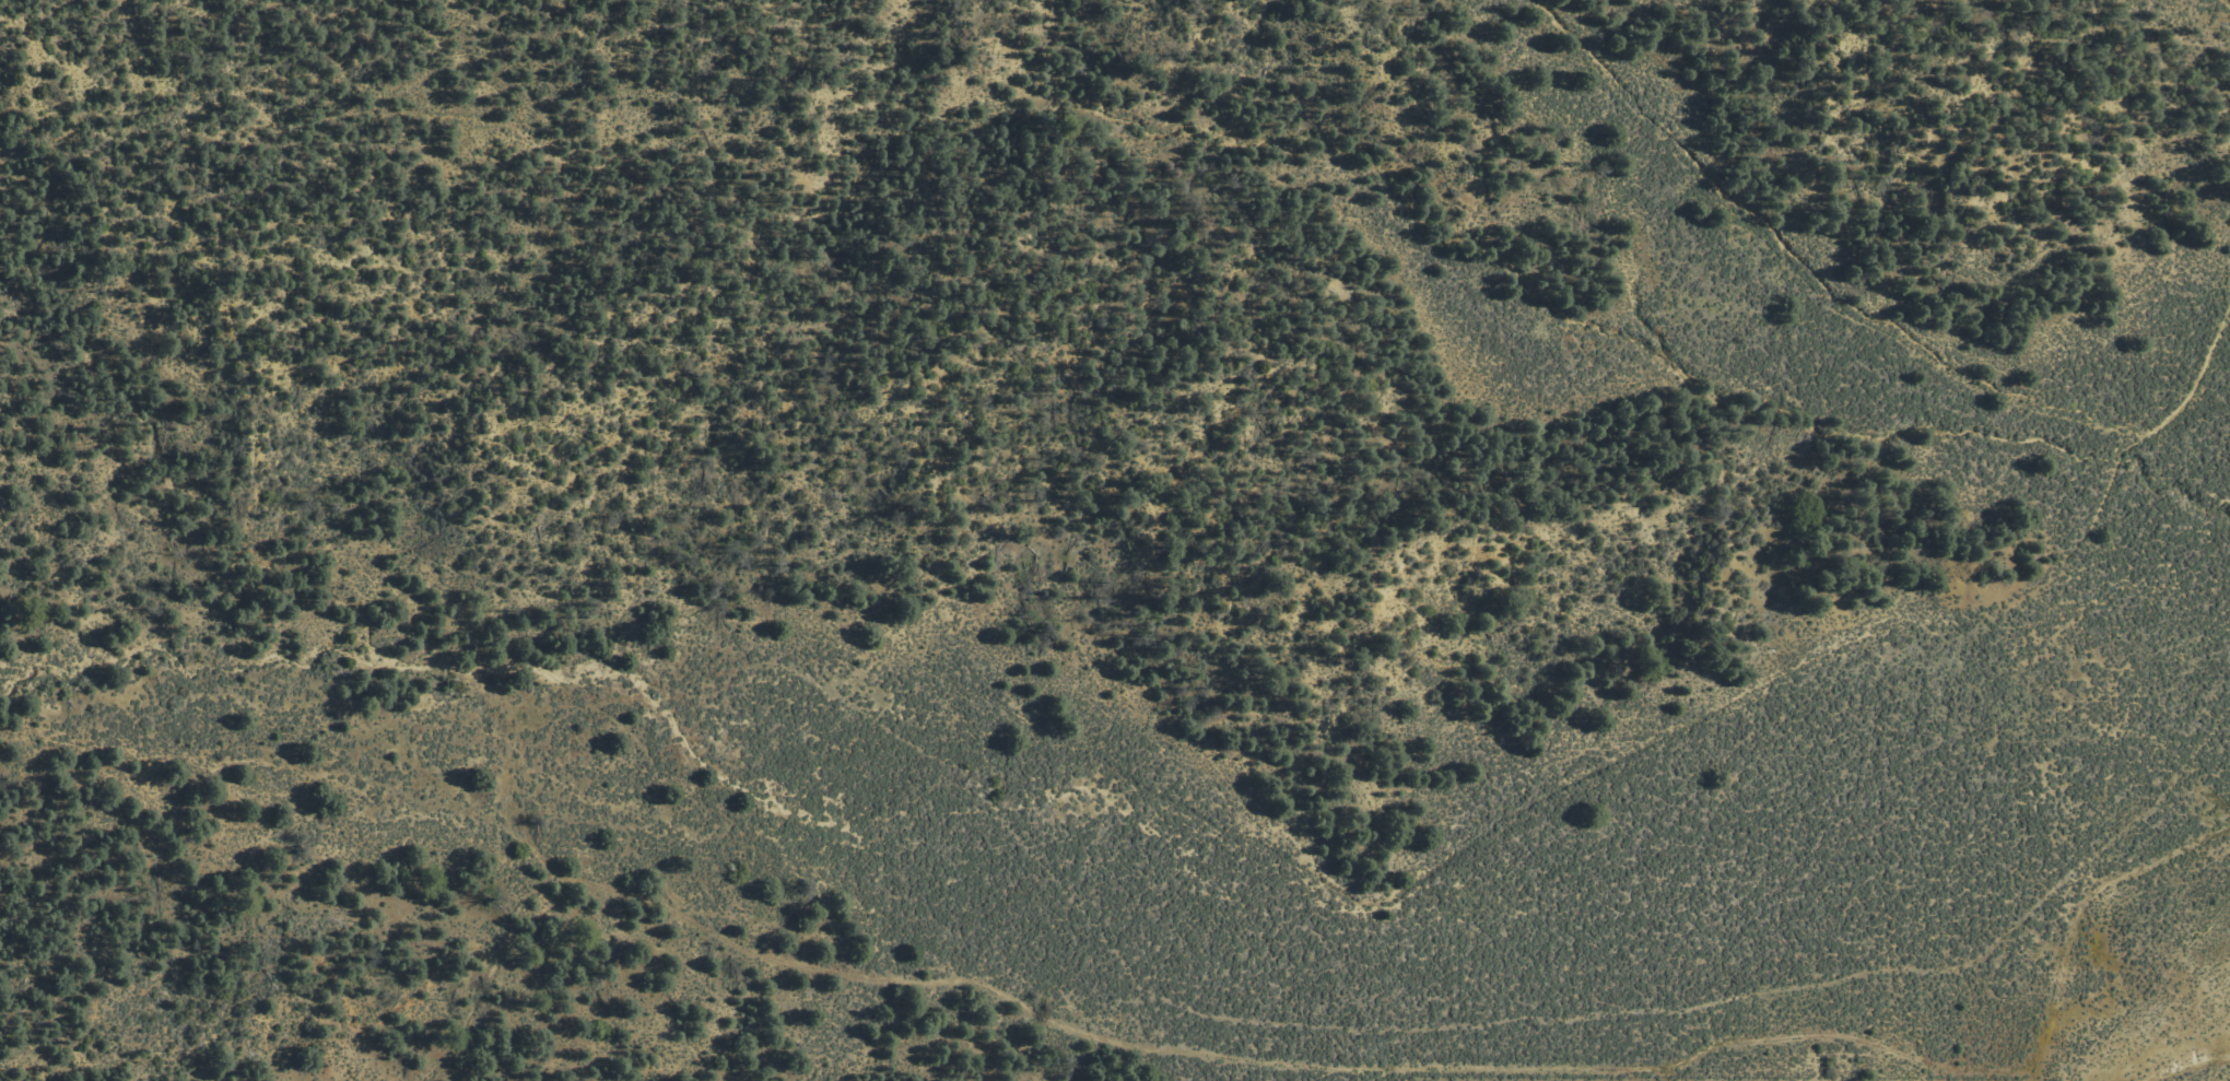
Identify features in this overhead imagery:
road: (2228, 1)
road: (2198, 373)

